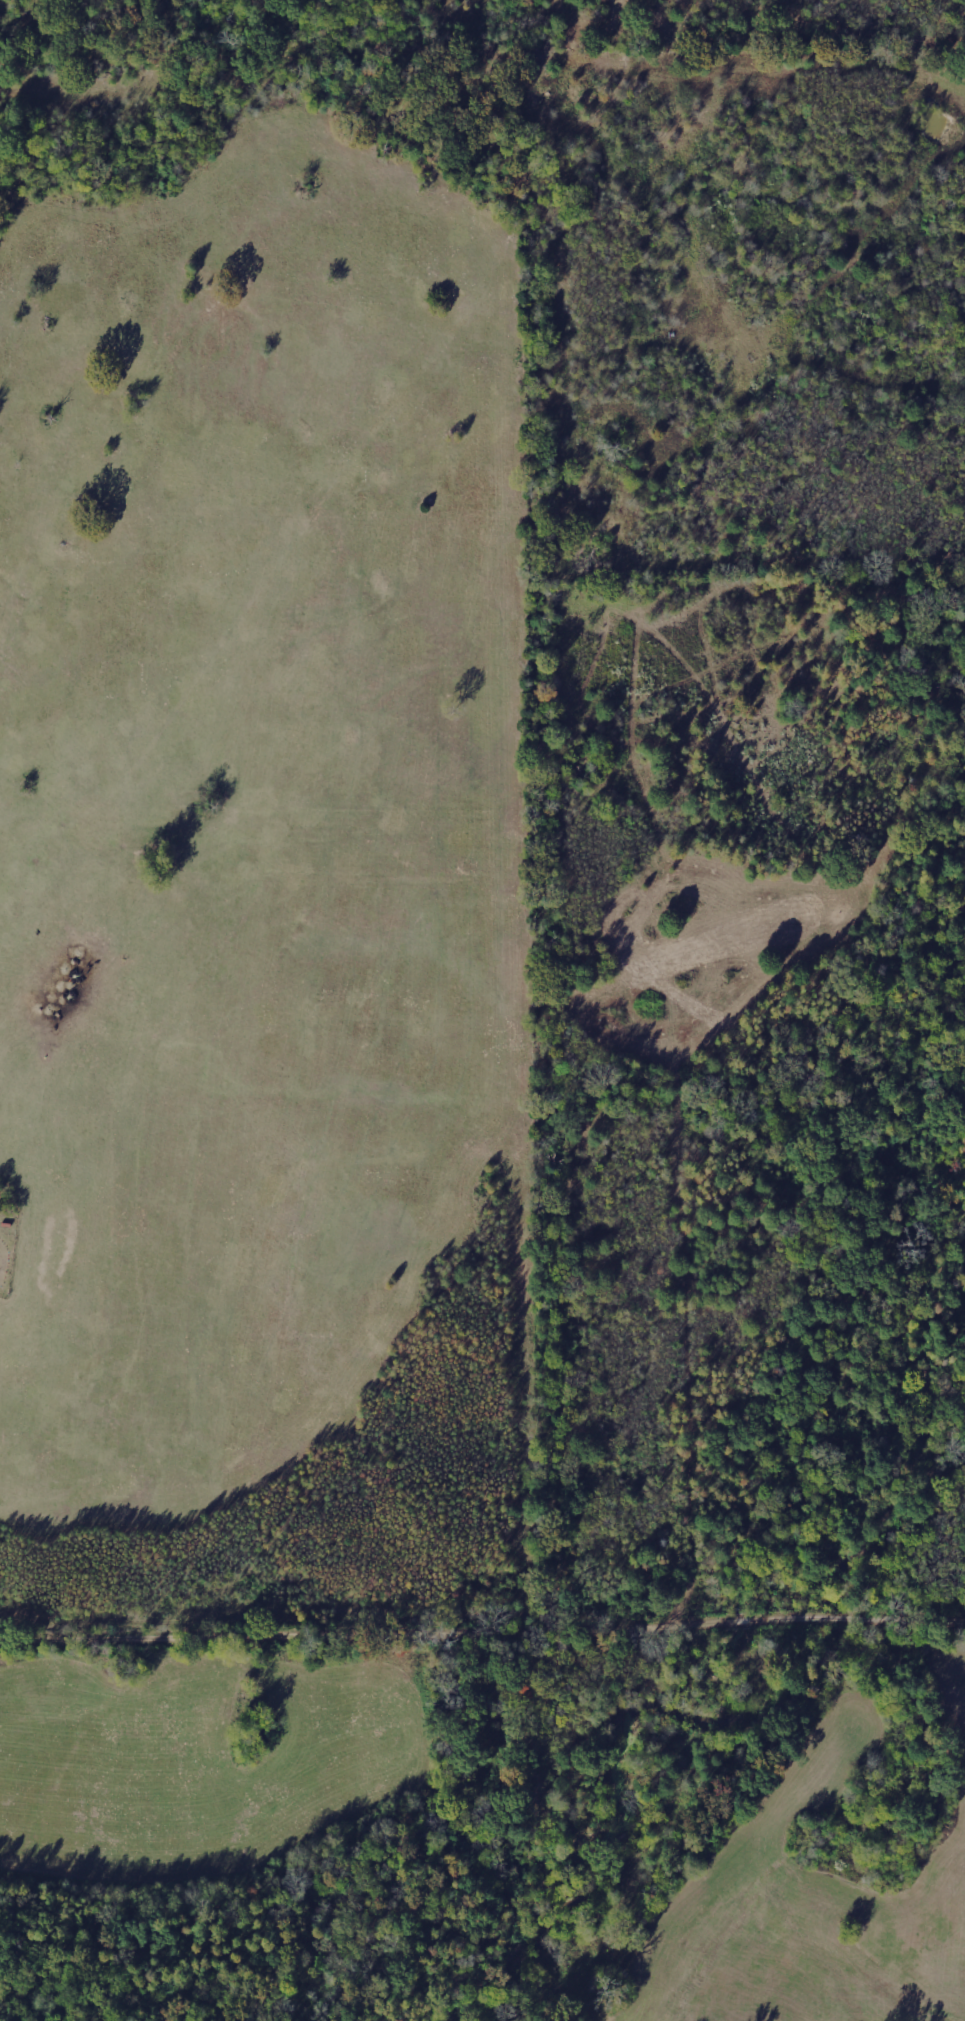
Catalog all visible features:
road: (485, 1636)

